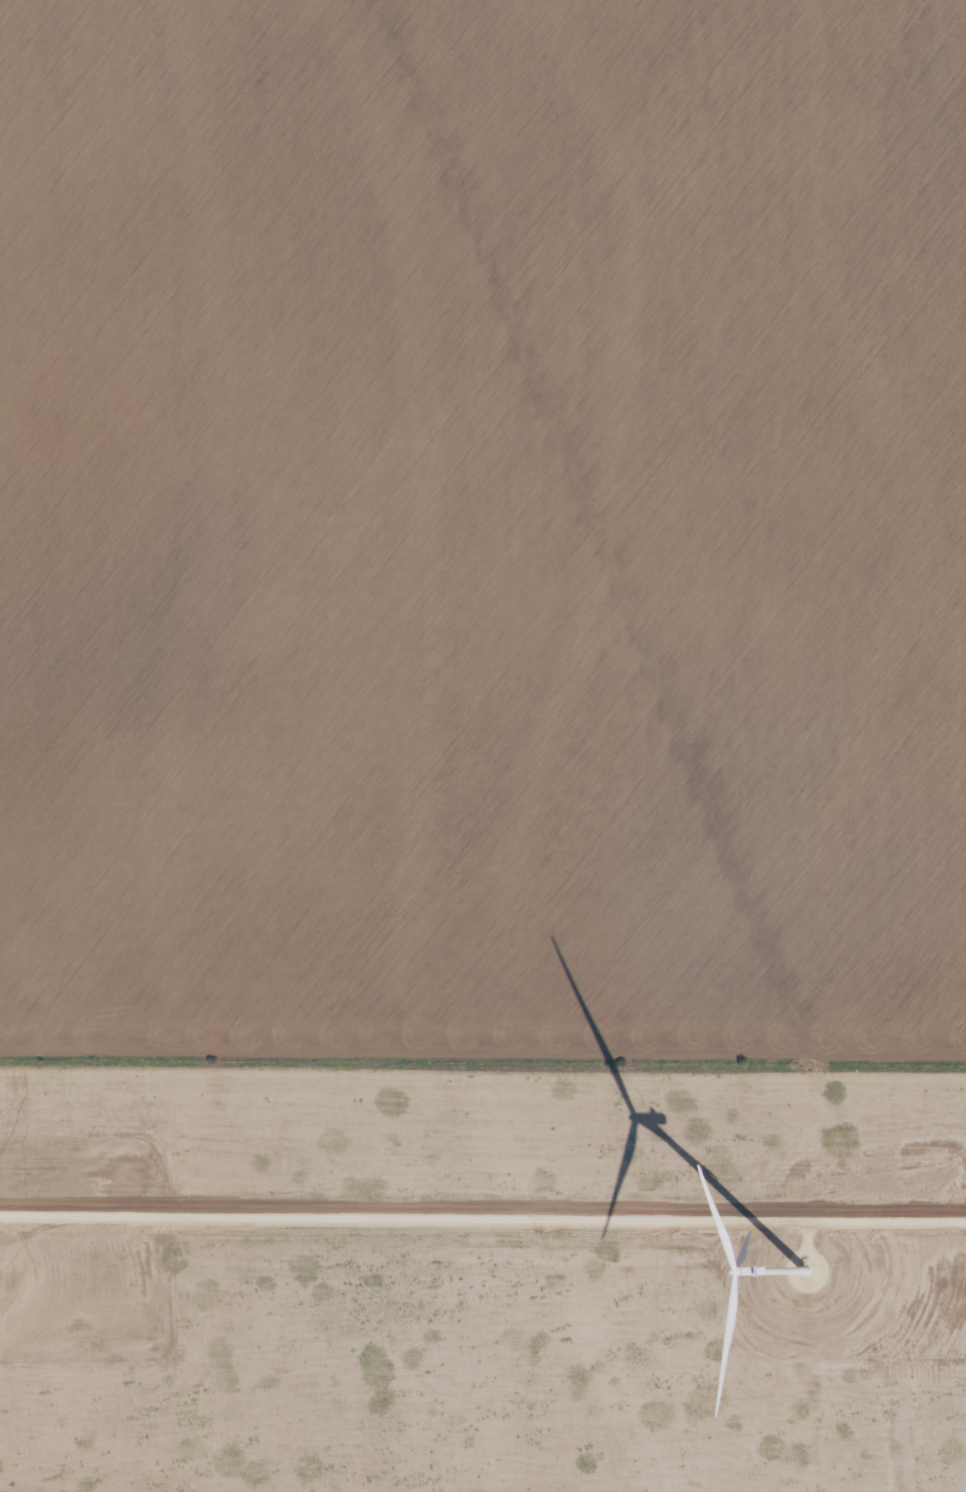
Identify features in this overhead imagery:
wind turbine: (801, 1270)

